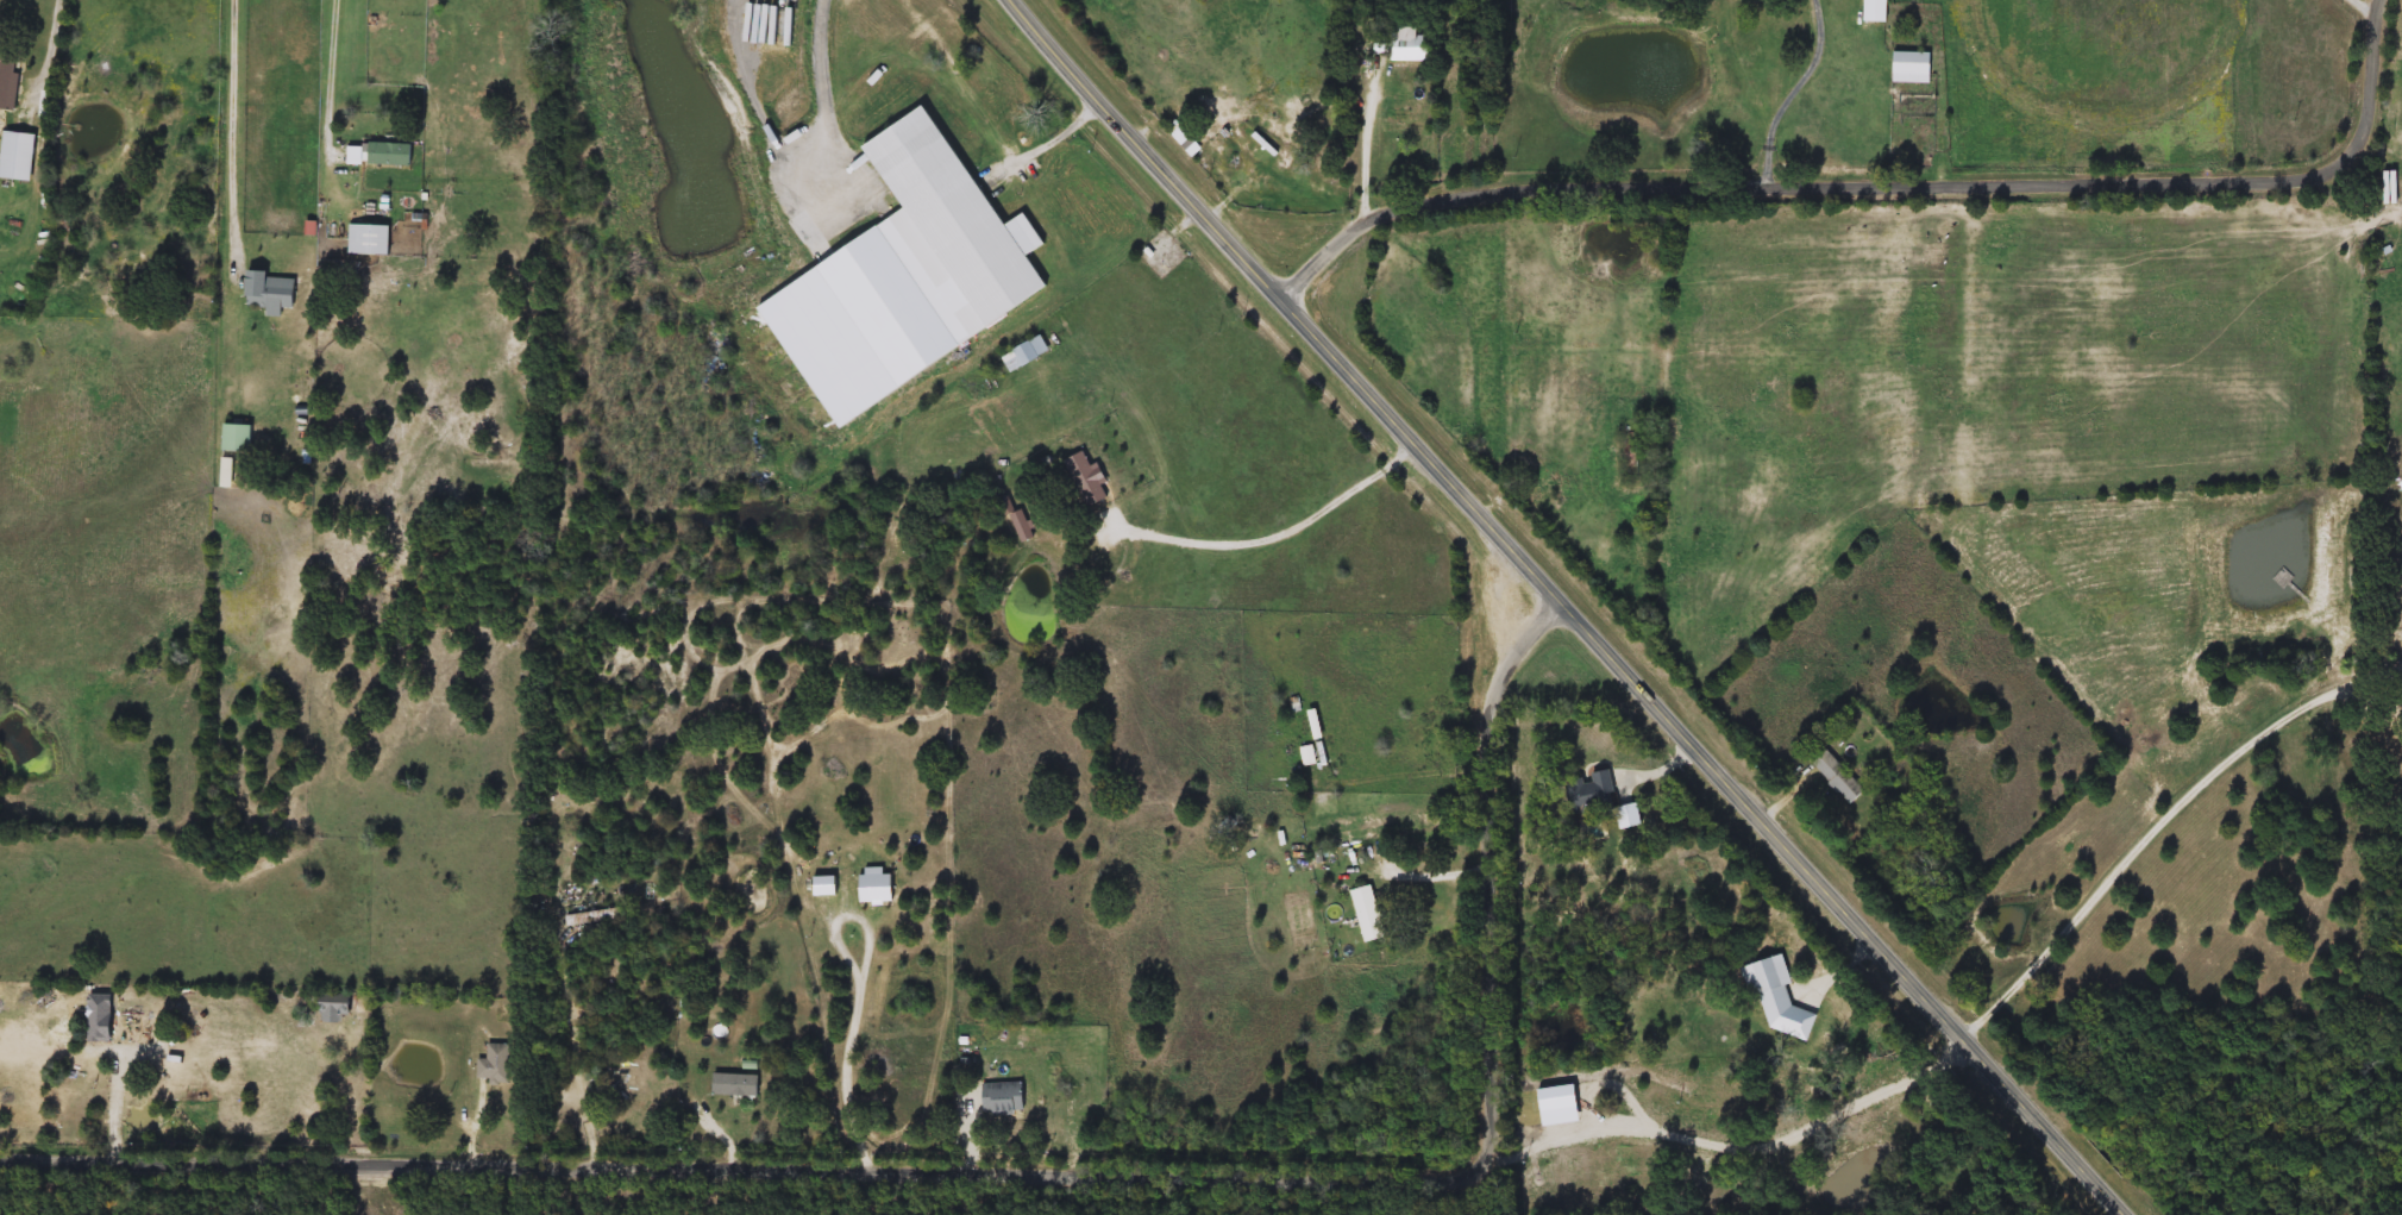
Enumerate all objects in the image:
road: (2370, 7)
building: (1879, 11)
building: (1400, 42)
road: (49, 45)
building: (1913, 65)
building: (12, 82)
road: (1790, 92)
road: (333, 93)
road: (828, 101)
road: (1945, 136)
road: (236, 140)
road: (1055, 143)
building: (380, 152)
road: (1366, 161)
road: (1890, 187)
building: (951, 227)
building: (371, 238)
building: (272, 290)
building: (15, 295)
building: (1027, 353)
building: (239, 437)
building: (228, 471)
building: (1083, 472)
building: (1060, 496)
road: (1275, 537)
road: (1572, 613)
road: (2369, 675)
road: (2370, 695)
road: (1409, 766)
building: (1839, 776)
road: (2134, 845)
road: (1443, 870)
building: (1369, 913)
road: (860, 990)
road: (575, 1048)
building: (494, 1064)
building: (738, 1084)
road: (120, 1095)
building: (1003, 1097)
road: (714, 1121)
road: (1730, 1138)
road: (1026, 1159)
road: (1456, 1184)

